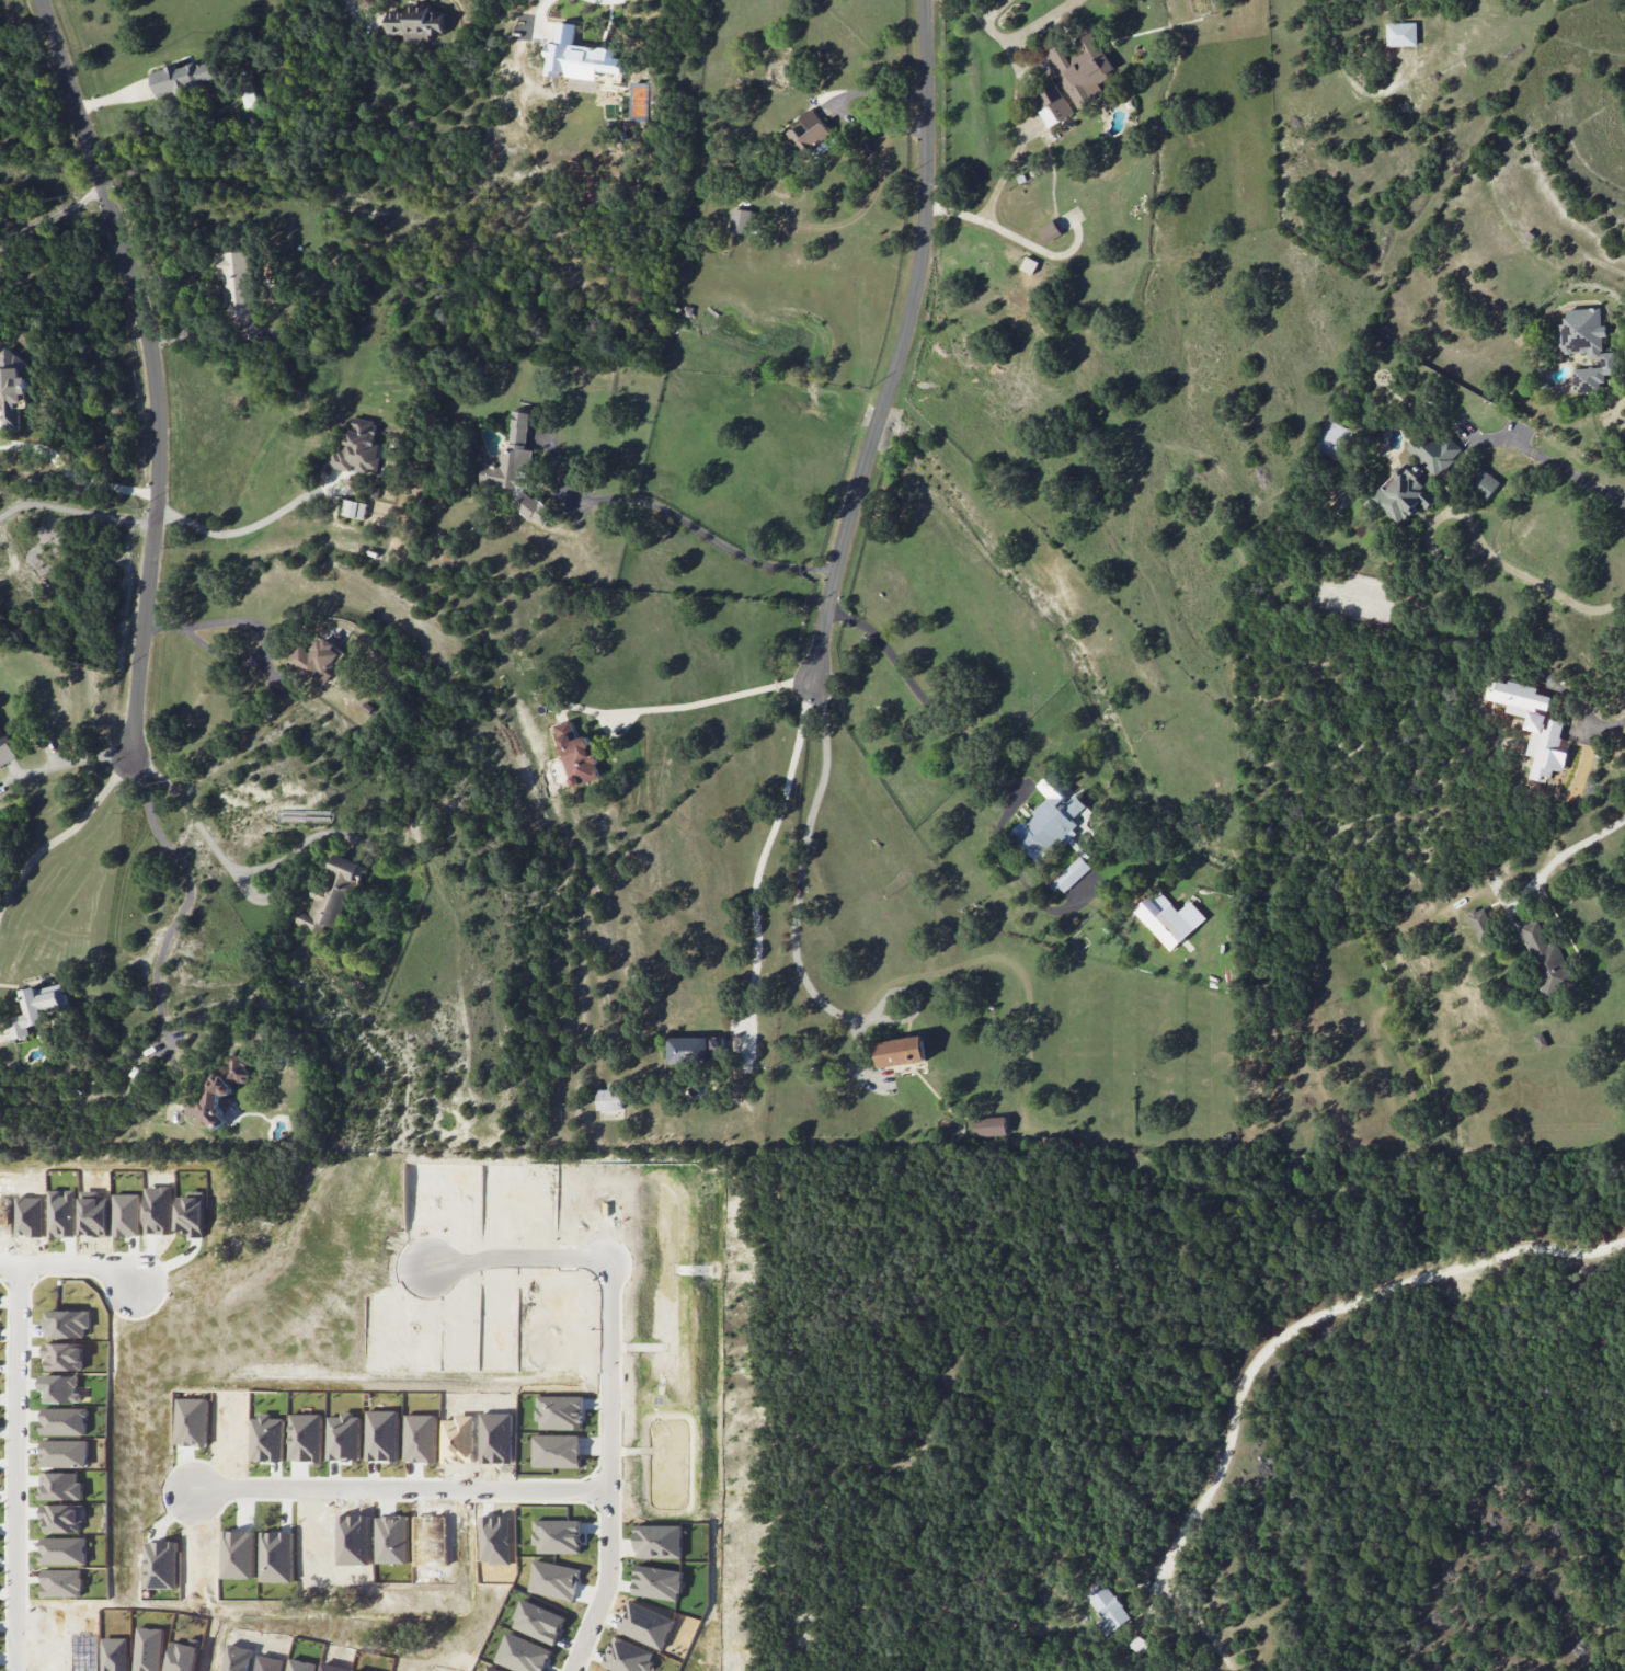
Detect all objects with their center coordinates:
road: (989, 9)
road: (1041, 22)
building: (416, 23)
building: (1401, 34)
building: (577, 56)
building: (1082, 69)
building: (185, 77)
building: (1050, 103)
road: (838, 107)
road: (1014, 107)
building: (808, 133)
road: (52, 215)
building: (741, 220)
building: (1050, 231)
road: (1015, 237)
building: (1029, 265)
building: (236, 285)
road: (902, 345)
building: (1586, 345)
road: (155, 369)
building: (12, 388)
building: (1331, 439)
building: (357, 448)
building: (511, 456)
road: (1552, 462)
road: (72, 476)
building: (1416, 477)
building: (1483, 483)
building: (533, 507)
building: (353, 508)
road: (73, 510)
road: (236, 529)
road: (1428, 530)
road: (703, 535)
road: (1546, 586)
road: (256, 626)
building: (318, 659)
road: (714, 700)
building: (1533, 724)
road: (1601, 730)
building: (5, 748)
building: (576, 754)
road: (78, 757)
building: (1051, 819)
road: (67, 827)
road: (1559, 852)
road: (759, 860)
road: (230, 869)
building: (1073, 874)
road: (796, 895)
building: (331, 896)
road: (175, 917)
building: (1164, 919)
building: (1480, 924)
building: (1544, 958)
building: (36, 1008)
building: (694, 1049)
building: (901, 1051)
building: (219, 1091)
building: (609, 1097)
building: (989, 1126)
road: (71, 1263)
road: (1317, 1317)
road: (618, 1389)
road: (23, 1467)
road: (410, 1495)
building: (1108, 1606)
building: (1138, 1644)

